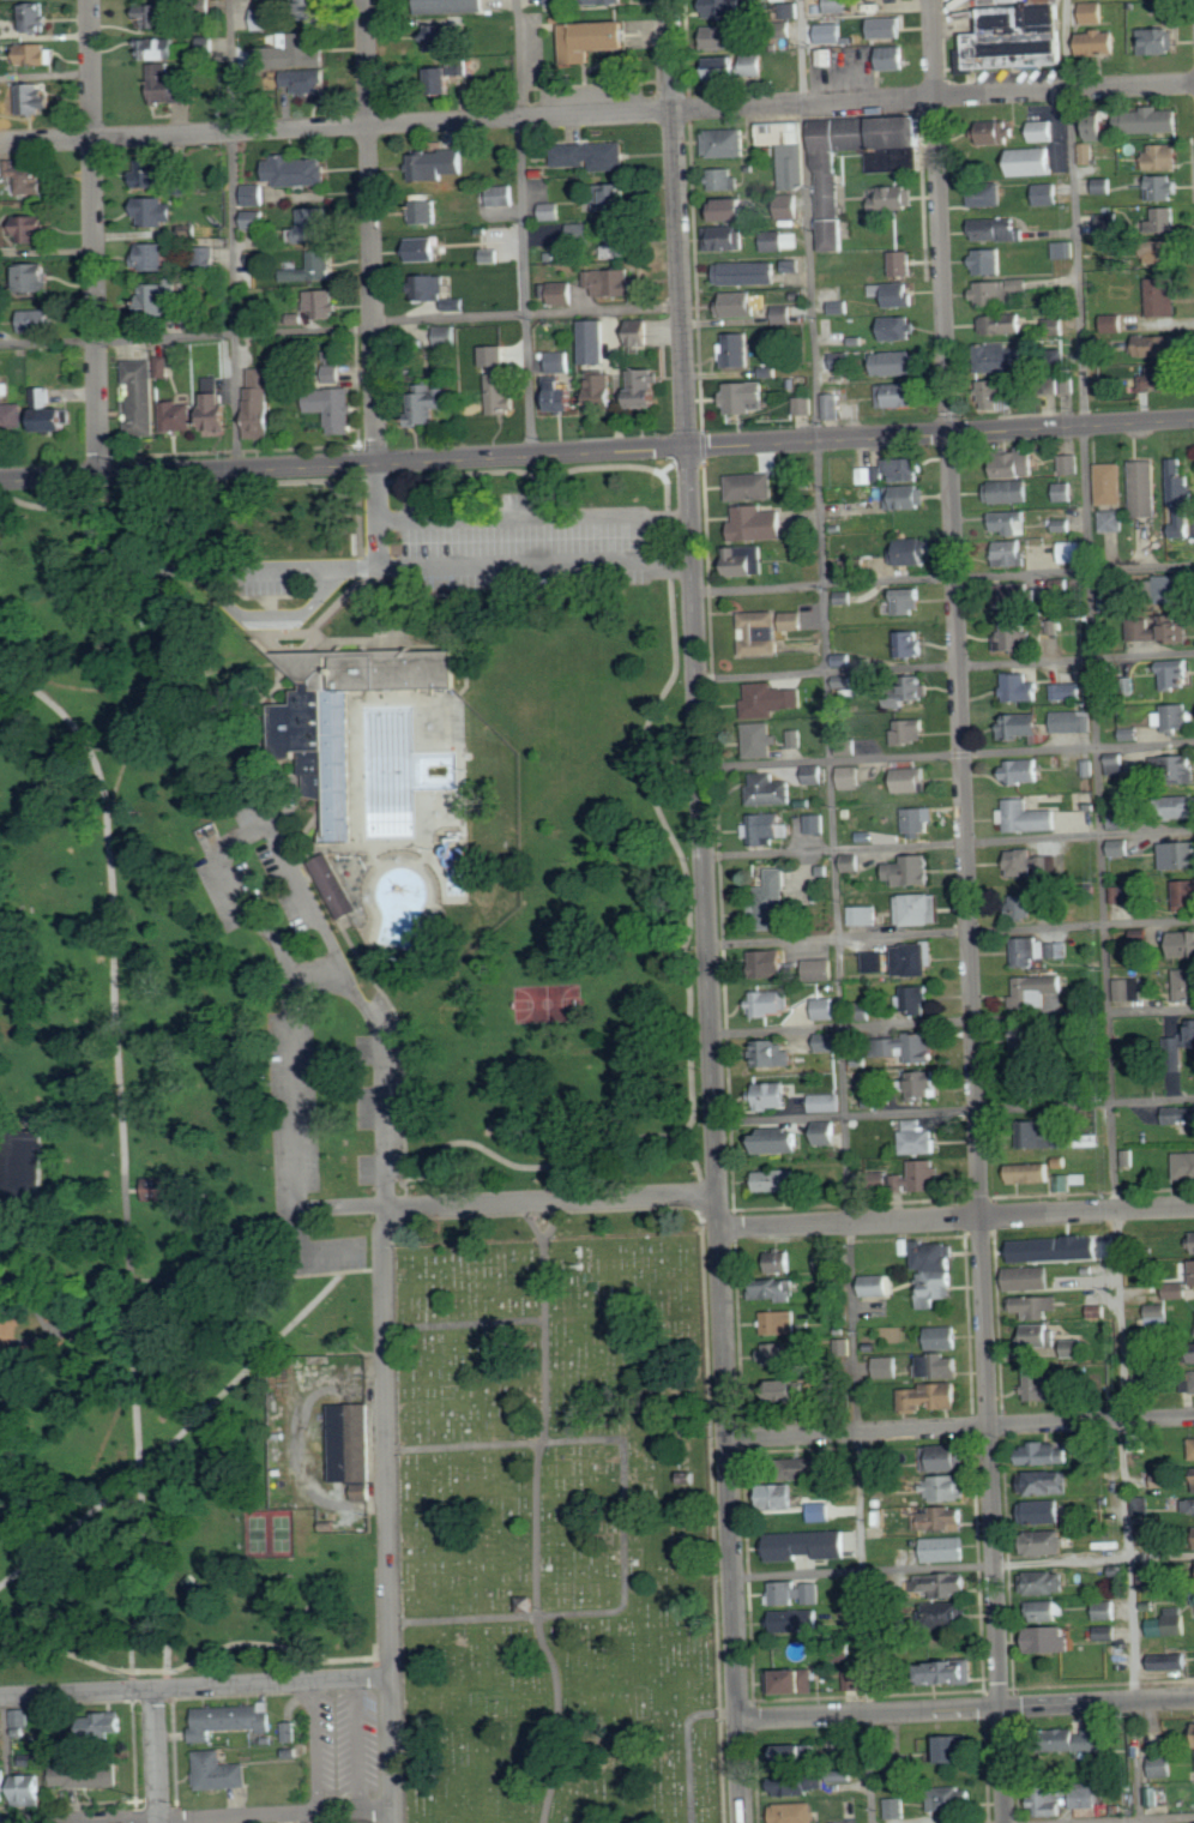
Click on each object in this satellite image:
building: (556, 1)
building: (603, 1)
building: (451, 6)
building: (837, 6)
building: (729, 8)
building: (314, 12)
building: (1094, 13)
building: (155, 16)
building: (35, 18)
building: (264, 19)
building: (887, 28)
building: (0, 34)
building: (834, 35)
building: (724, 37)
building: (1019, 37)
building: (439, 38)
building: (595, 40)
building: (1159, 41)
building: (1100, 43)
building: (209, 44)
building: (159, 49)
building: (32, 54)
building: (826, 58)
building: (893, 58)
building: (754, 65)
building: (724, 68)
building: (460, 70)
building: (442, 80)
building: (308, 82)
building: (169, 85)
building: (35, 98)
road: (597, 114)
building: (1156, 120)
building: (1097, 126)
building: (1041, 131)
building: (995, 132)
building: (725, 143)
building: (786, 151)
building: (1087, 154)
building: (592, 155)
building: (1164, 156)
building: (884, 161)
building: (1032, 162)
building: (439, 164)
building: (296, 170)
building: (152, 173)
building: (26, 178)
building: (723, 180)
building: (182, 186)
building: (1103, 186)
building: (1162, 187)
building: (254, 194)
building: (1047, 194)
building: (501, 195)
building: (988, 195)
building: (614, 197)
building: (892, 198)
building: (831, 200)
building: (791, 206)
building: (732, 209)
building: (550, 211)
building: (156, 212)
building: (427, 212)
building: (253, 219)
building: (1164, 219)
building: (1109, 223)
road: (676, 224)
building: (314, 225)
road: (523, 228)
building: (32, 229)
building: (996, 229)
road: (370, 230)
building: (580, 233)
road: (231, 234)
road: (94, 237)
building: (725, 237)
building: (616, 241)
building: (782, 241)
building: (424, 248)
building: (1063, 249)
building: (1163, 252)
building: (209, 255)
building: (490, 255)
building: (152, 258)
building: (257, 259)
building: (990, 261)
building: (903, 264)
building: (313, 267)
building: (747, 273)
building: (36, 277)
building: (613, 283)
building: (1019, 285)
building: (429, 288)
building: (560, 293)
building: (991, 293)
building: (894, 294)
building: (157, 297)
building: (1163, 297)
building: (321, 303)
building: (456, 305)
building: (737, 305)
building: (840, 307)
road: (526, 311)
building: (783, 314)
building: (37, 320)
building: (1112, 324)
building: (1002, 325)
building: (898, 329)
building: (640, 332)
road: (186, 335)
building: (447, 336)
building: (595, 342)
building: (1154, 345)
building: (736, 350)
building: (495, 355)
building: (1001, 359)
building: (560, 361)
building: (840, 361)
building: (894, 363)
building: (163, 367)
building: (1162, 379)
building: (646, 387)
building: (602, 391)
building: (499, 393)
building: (995, 395)
building: (141, 396)
building: (899, 396)
building: (746, 397)
building: (565, 398)
building: (216, 403)
building: (260, 403)
building: (429, 403)
building: (803, 405)
building: (832, 407)
building: (334, 408)
building: (50, 413)
building: (11, 414)
building: (177, 416)
road: (941, 434)
road: (675, 459)
road: (343, 464)
building: (1071, 464)
building: (1013, 465)
building: (906, 469)
building: (867, 475)
building: (1110, 483)
road: (253, 485)
building: (750, 487)
building: (1145, 488)
building: (1009, 492)
building: (1063, 492)
building: (907, 497)
building: (1181, 500)
road: (378, 513)
road: (511, 516)
building: (1114, 521)
building: (1011, 523)
building: (758, 524)
building: (1062, 525)
road: (638, 540)
building: (910, 552)
building: (1012, 553)
building: (1072, 553)
road: (508, 561)
building: (746, 561)
road: (270, 567)
road: (943, 576)
road: (211, 585)
building: (1172, 589)
building: (1019, 596)
building: (907, 601)
building: (1109, 602)
building: (794, 621)
road: (318, 622)
building: (1162, 630)
building: (760, 633)
building: (1015, 637)
building: (909, 644)
road: (945, 663)
building: (1176, 675)
road: (94, 687)
building: (1021, 688)
building: (909, 691)
building: (1067, 692)
building: (770, 700)
road: (162, 703)
building: (1175, 717)
building: (1073, 722)
building: (296, 726)
building: (1023, 726)
building: (910, 732)
building: (1132, 734)
building: (796, 739)
building: (760, 740)
road: (946, 752)
building: (366, 764)
building: (1115, 764)
building: (1024, 771)
building: (816, 775)
building: (850, 778)
building: (909, 781)
building: (770, 792)
building: (1182, 807)
water park: (402, 808)
road: (661, 811)
building: (1027, 817)
building: (1120, 818)
building: (917, 820)
building: (816, 824)
building: (768, 829)
building: (209, 836)
road: (948, 843)
building: (1120, 848)
road: (965, 854)
building: (1177, 855)
road: (218, 862)
building: (851, 862)
building: (1033, 864)
building: (913, 871)
building: (332, 884)
building: (1186, 892)
building: (1121, 894)
building: (772, 901)
building: (1024, 904)
building: (919, 908)
road: (834, 911)
road: (1102, 911)
building: (862, 915)
road: (951, 929)
building: (1136, 934)
building: (1182, 943)
building: (1057, 949)
building: (1030, 950)
building: (915, 957)
building: (876, 961)
building: (771, 962)
building: (820, 969)
road: (318, 979)
building: (1186, 982)
building: (1129, 988)
building: (1036, 989)
park: (310, 997)
building: (917, 998)
park: (547, 1001)
building: (771, 1001)
building: (826, 1007)
road: (952, 1021)
building: (1192, 1031)
building: (1029, 1037)
building: (828, 1041)
building: (910, 1046)
building: (774, 1052)
building: (923, 1084)
building: (774, 1095)
building: (873, 1096)
building: (827, 1102)
road: (954, 1109)
building: (1180, 1114)
building: (1041, 1132)
road: (714, 1136)
road: (121, 1137)
building: (828, 1137)
building: (918, 1137)
building: (782, 1139)
building: (1128, 1157)
road: (694, 1162)
building: (1186, 1165)
building: (19, 1167)
building: (923, 1174)
building: (1080, 1178)
building: (778, 1179)
building: (1063, 1183)
building: (151, 1187)
road: (549, 1201)
road: (340, 1208)
road: (955, 1209)
road: (955, 1217)
road: (531, 1219)
building: (1193, 1241)
building: (1057, 1247)
building: (937, 1255)
building: (783, 1261)
building: (826, 1261)
road: (192, 1277)
building: (1029, 1277)
building: (881, 1283)
building: (937, 1287)
building: (772, 1288)
building: (1177, 1289)
building: (1035, 1305)
building: (1099, 1311)
building: (1157, 1314)
building: (779, 1322)
road: (464, 1323)
building: (1039, 1334)
building: (943, 1337)
building: (1074, 1346)
building: (1144, 1350)
building: (776, 1353)
building: (941, 1365)
building: (887, 1366)
road: (241, 1370)
building: (1189, 1383)
building: (1045, 1384)
building: (786, 1389)
building: (931, 1396)
road: (960, 1427)
road: (152, 1440)
building: (1139, 1442)
building: (348, 1444)
building: (1193, 1446)
building: (1049, 1452)
road: (98, 1454)
building: (945, 1457)
building: (885, 1462)
building: (807, 1468)
building: (688, 1476)
building: (1165, 1480)
building: (1045, 1482)
building: (946, 1487)
building: (778, 1494)
building: (1141, 1505)
building: (1189, 1506)
road: (536, 1509)
building: (822, 1511)
building: (1043, 1511)
road: (387, 1515)
building: (945, 1517)
park: (557, 1521)
road: (622, 1523)
park: (267, 1532)
building: (1145, 1536)
building: (1047, 1541)
building: (1108, 1544)
building: (810, 1545)
building: (945, 1548)
road: (963, 1564)
road: (143, 1572)
building: (1147, 1576)
building: (1045, 1582)
building: (952, 1583)
building: (786, 1592)
building: (813, 1593)
building: (1049, 1608)
building: (1106, 1610)
building: (797, 1620)
building: (1171, 1623)
road: (131, 1631)
building: (1109, 1632)
building: (1050, 1638)
road: (200, 1657)
building: (1171, 1661)
road: (382, 1667)
building: (952, 1671)
building: (792, 1680)
building: (854, 1680)
road: (194, 1687)
road: (1097, 1702)
road: (868, 1714)
building: (20, 1720)
building: (231, 1720)
building: (107, 1725)
building: (290, 1731)
building: (0, 1734)
building: (1085, 1739)
road: (687, 1746)
building: (947, 1747)
building: (843, 1749)
building: (797, 1752)
road: (157, 1756)
road: (6, 1759)
building: (31, 1759)
road: (1002, 1765)
building: (1163, 1765)
building: (897, 1767)
building: (219, 1771)
building: (844, 1774)
building: (88, 1775)
building: (4, 1785)
building: (796, 1786)
building: (30, 1789)
building: (1091, 1795)
building: (952, 1799)
building: (1050, 1803)
building: (895, 1807)
building: (796, 1812)
road: (253, 1815)
road: (303, 1817)
road: (1112, 1818)
building: (1192, 1821)

